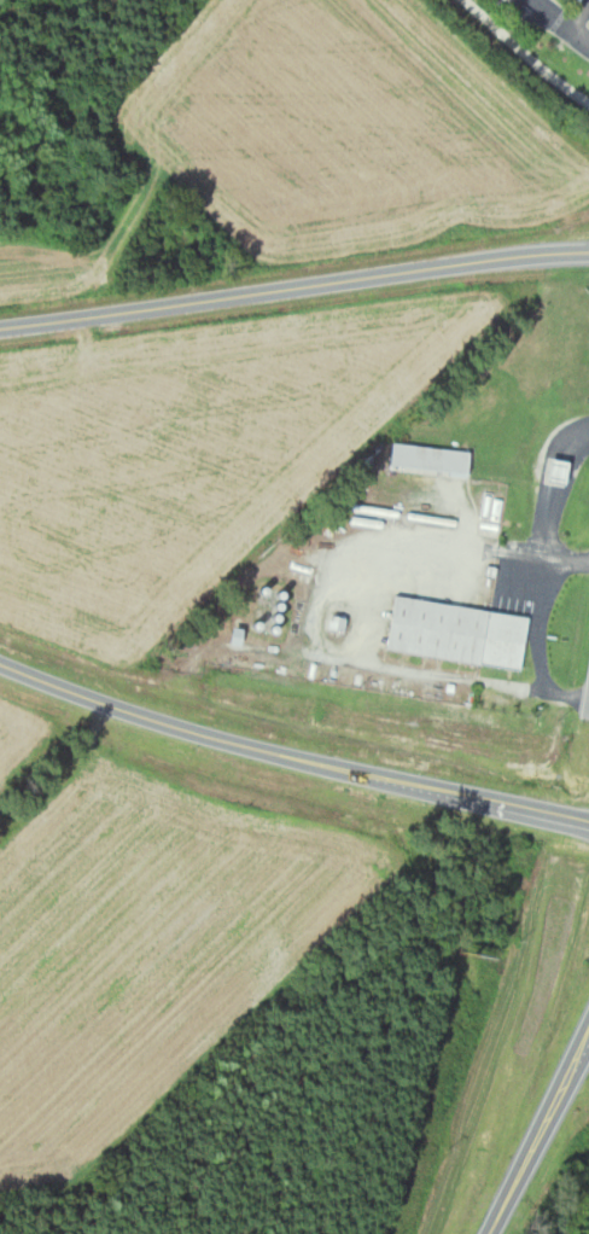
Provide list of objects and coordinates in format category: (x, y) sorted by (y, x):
building: (503, 1)
road: (525, 52)
road: (293, 285)
building: (548, 472)
building: (450, 634)
building: (147, 743)
road: (290, 756)
road: (536, 1134)

